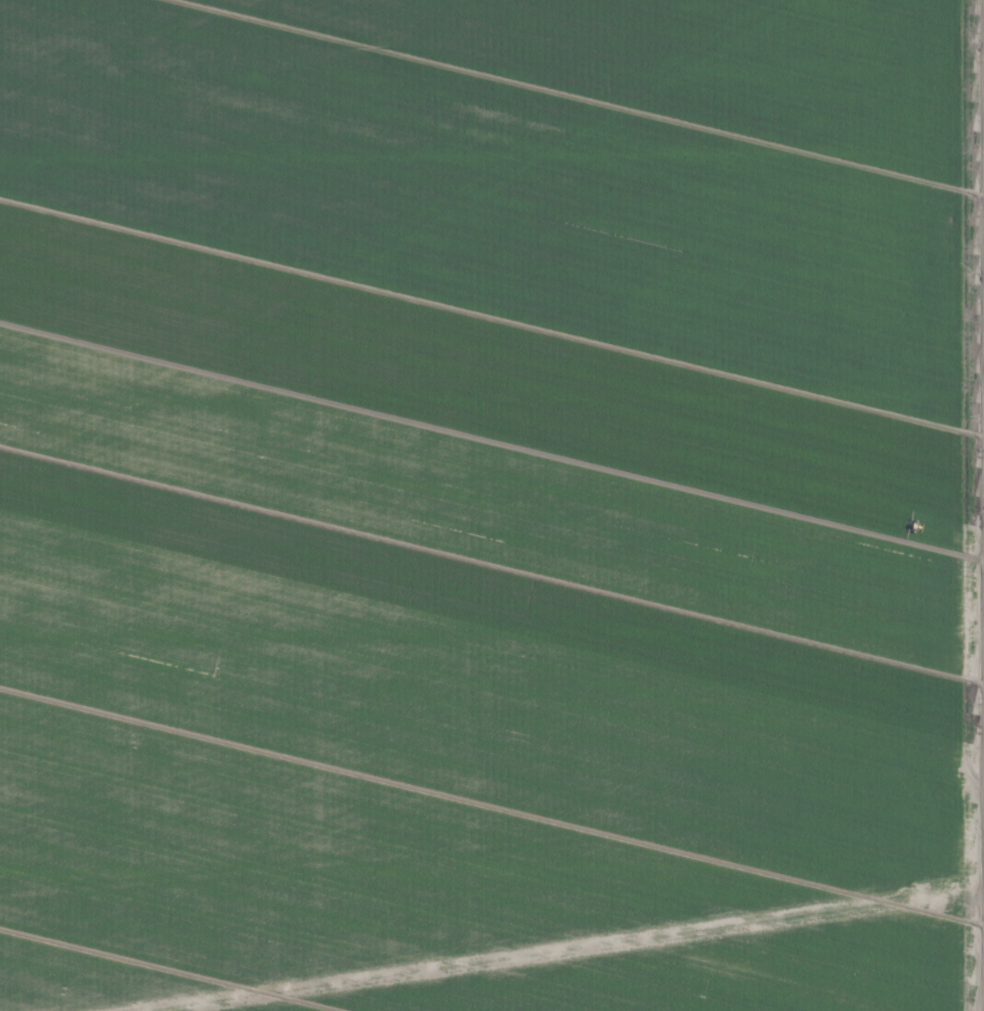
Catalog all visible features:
crop: (492, 505)

